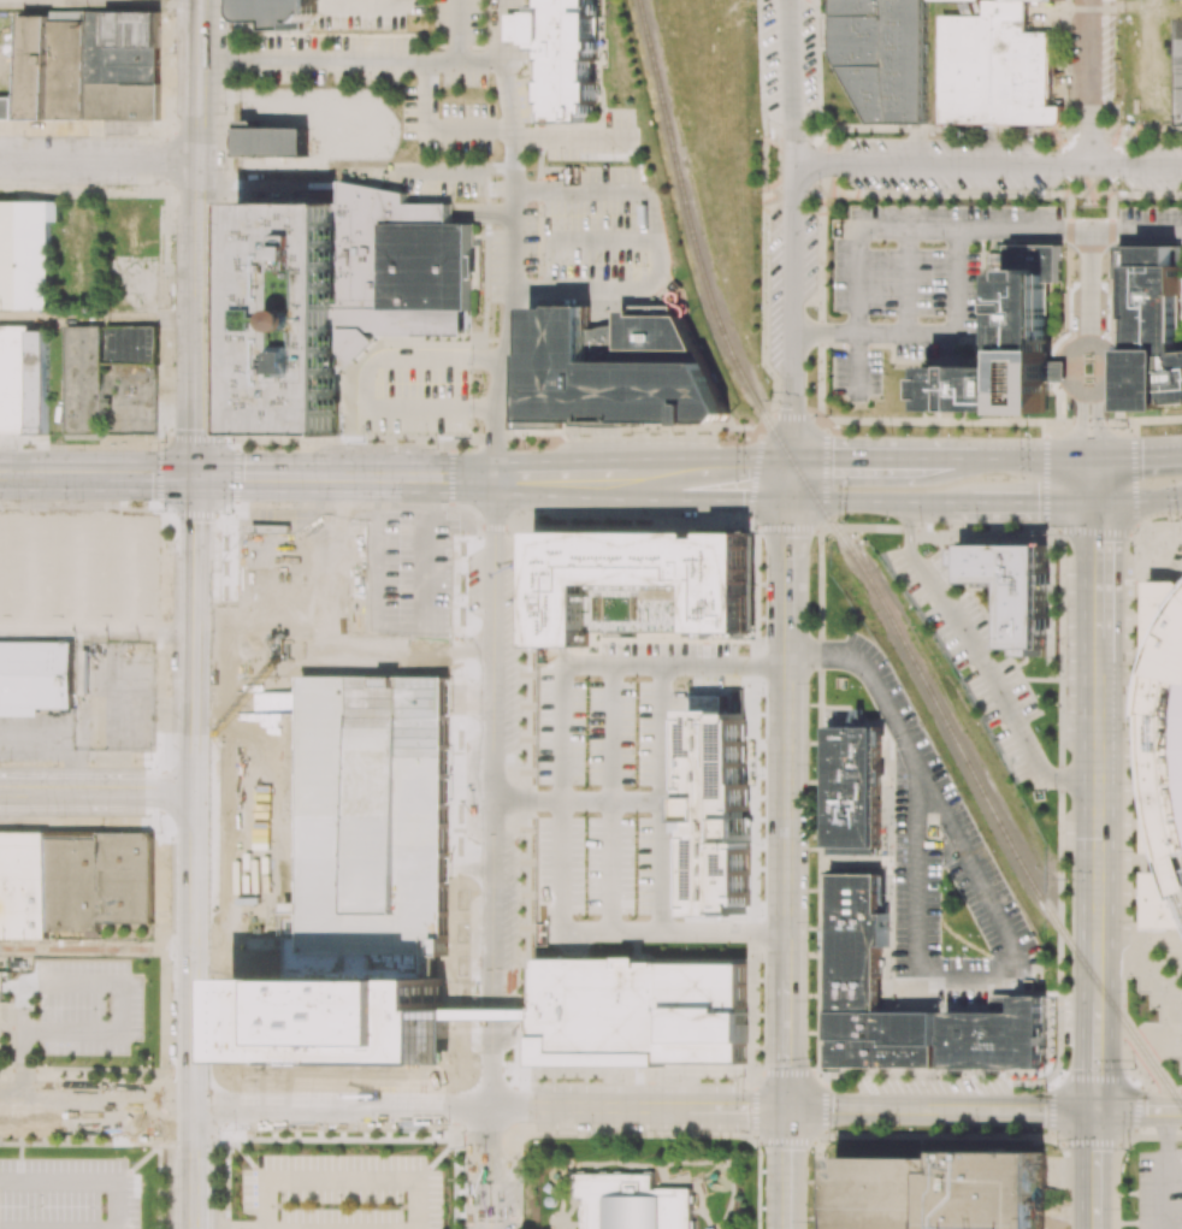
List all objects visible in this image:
road: (100, 4)
road: (361, 4)
building: (282, 11)
road: (459, 30)
road: (497, 30)
street lamp: (752, 30)
road: (520, 36)
street lamp: (175, 48)
building: (563, 53)
building: (883, 55)
road: (350, 60)
building: (90, 65)
building: (997, 67)
road: (790, 81)
road: (1088, 82)
street lamp: (288, 85)
street lamp: (368, 85)
building: (6, 108)
road: (200, 112)
street lamp: (225, 113)
road: (435, 128)
road: (574, 137)
street lamp: (763, 137)
building: (272, 143)
road: (99, 161)
road: (987, 164)
road: (459, 171)
street lamp: (116, 185)
street lamp: (764, 191)
street lamp: (818, 191)
road: (922, 229)
road: (1136, 230)
street lamp: (172, 237)
road: (603, 238)
road: (657, 244)
building: (26, 254)
road: (513, 270)
street lamp: (226, 280)
road: (906, 280)
road: (1089, 286)
road: (199, 288)
building: (337, 295)
road: (792, 309)
road: (100, 315)
water tower: (307, 319)
road: (953, 326)
building: (1154, 329)
road: (825, 332)
building: (1010, 348)
road: (857, 364)
flagpole: (1086, 364)
flagpole: (1093, 364)
street lamp: (172, 365)
building: (616, 366)
building: (100, 370)
street lamp: (808, 372)
flagpole: (1089, 373)
road: (371, 378)
street lamp: (768, 378)
building: (24, 380)
parking lot: (414, 391)
road: (1088, 392)
railway: (753, 398)
traffic signals: (791, 407)
road: (199, 413)
street lamp: (828, 414)
traffic signals: (1081, 415)
street lamp: (1124, 426)
street lamp: (1026, 429)
street lamp: (891, 433)
street lamp: (973, 435)
street lamp: (741, 437)
street lamp: (165, 442)
street lamp: (234, 442)
street lamp: (16, 448)
street lamp: (83, 449)
road: (1089, 451)
road: (1136, 451)
traffic signals: (1142, 451)
road: (716, 456)
traffic signals: (834, 456)
road: (876, 456)
road: (1027, 456)
road: (567, 463)
road: (43, 474)
road: (142, 475)
traffic signals: (199, 477)
road: (258, 477)
road: (403, 477)
road: (1092, 477)
road: (790, 478)
road: (555, 492)
road: (704, 498)
road: (1137, 498)
street lamp: (19, 500)
street lamp: (81, 500)
traffic signals: (741, 500)
road: (870, 500)
road: (1023, 501)
traffic signals: (1038, 501)
street lamp: (351, 502)
street lamp: (162, 510)
street lamp: (231, 513)
street lamp: (1177, 518)
street lamp: (846, 520)
road: (197, 521)
road: (908, 521)
street lamp: (920, 524)
street lamp: (976, 525)
road: (1163, 525)
building: (728, 530)
road: (788, 530)
road: (1094, 530)
building: (703, 532)
street lamp: (755, 533)
street lamp: (1045, 534)
traffic signals: (788, 538)
traffic signals: (1095, 542)
street lamp: (461, 543)
building: (750, 579)
road: (1095, 580)
building: (637, 583)
building: (1015, 589)
street lamp: (170, 596)
road: (787, 597)
street lamp: (1131, 598)
street lamp: (811, 605)
road: (197, 621)
parking lot: (376, 624)
road: (1095, 627)
road: (99, 633)
building: (692, 633)
building: (733, 634)
street lamp: (761, 638)
street lamp: (460, 649)
road: (561, 654)
parking lot: (974, 654)
street lamp: (1053, 655)
road: (786, 657)
road: (982, 660)
road: (673, 663)
street lamp: (1134, 666)
street lamp: (220, 673)
road: (873, 673)
building: (36, 675)
building: (280, 675)
street lamp: (675, 679)
street lamp: (811, 683)
street lamp: (858, 686)
street lamp: (586, 696)
street lamp: (634, 696)
building: (709, 703)
street lamp: (1133, 719)
parking lot: (34, 720)
street lamp: (1056, 722)
road: (196, 735)
road: (36, 737)
street lamp: (459, 744)
street lamp: (893, 748)
street lamp: (146, 751)
street lamp: (226, 751)
road: (1097, 752)
parking lot: (30, 754)
building: (1165, 754)
stadium: (1165, 754)
street lamp: (394, 761)
street lamp: (10, 762)
street lamp: (812, 762)
street lamp: (57, 764)
road: (69, 769)
street lamp: (585, 769)
street lamp: (634, 769)
road: (1072, 780)
street lamp: (1134, 782)
street lamp: (888, 785)
building: (855, 791)
road: (25, 792)
road: (123, 792)
traffic signals: (196, 793)
street lamp: (1053, 793)
road: (560, 797)
road: (609, 797)
road: (661, 797)
road: (575, 799)
road: (785, 806)
building: (717, 813)
street lamp: (61, 817)
street lamp: (890, 822)
building: (678, 823)
street lamp: (161, 831)
street lamp: (585, 832)
street lamp: (634, 832)
street lamp: (942, 838)
traffic signals: (1097, 839)
street lamp: (811, 840)
street lamp: (1134, 851)
road: (491, 853)
road: (195, 855)
street lamp: (890, 861)
street lamp: (942, 861)
road: (916, 867)
street lamp: (1064, 879)
building: (100, 880)
building: (23, 886)
street lamp: (888, 892)
road: (1095, 893)
street lamp: (584, 898)
street lamp: (634, 899)
street lamp: (166, 908)
road: (994, 909)
street lamp: (1133, 920)
street lamp: (810, 921)
road: (672, 932)
street lamp: (941, 932)
street lamp: (976, 934)
railway: (1065, 936)
building: (856, 941)
road: (433, 944)
street lamp: (695, 945)
road: (97, 949)
street lamp: (963, 955)
road: (1095, 959)
street lamp: (887, 976)
street lamp: (1068, 980)
street lamp: (1130, 989)
street lamp: (811, 1000)
building: (1003, 1003)
street lamp: (34, 1005)
parking lot: (85, 1006)
street lamp: (107, 1006)
road: (120, 1006)
road: (194, 1010)
building: (640, 1010)
road: (1094, 1014)
road: (785, 1020)
building: (997, 1036)
building: (883, 1039)
road: (23, 1042)
building: (544, 1048)
street lamp: (812, 1064)
street lamp: (167, 1065)
street lamp: (1133, 1068)
street lamp: (881, 1074)
street lamp: (143, 1077)
street lamp: (744, 1077)
road: (1093, 1077)
street lamp: (305, 1079)
street lamp: (982, 1079)
street lamp: (1044, 1085)
road: (96, 1104)
road: (341, 1105)
road: (544, 1107)
road: (630, 1107)
road: (679, 1107)
road: (743, 1109)
traffic signals: (786, 1109)
road: (833, 1109)
road: (926, 1109)
road: (1032, 1109)
traffic signals: (1093, 1110)
road: (1137, 1110)
street lamp: (445, 1124)
street lamp: (235, 1125)
street lamp: (897, 1128)
street lamp: (976, 1129)
street lamp: (590, 1131)
street lamp: (372, 1134)
street lamp: (834, 1142)
street lamp: (462, 1147)
street lamp: (1054, 1148)
street lamp: (1127, 1150)
street lamp: (752, 1152)
road: (194, 1166)
road: (786, 1169)
road: (1091, 1169)
road: (83, 1180)
road: (365, 1181)
parking lot: (343, 1190)
building: (942, 1190)
parking lot: (69, 1193)
parking lot: (490, 1193)
building: (633, 1203)
road: (267, 1205)
street lamp: (1119, 1207)
street lamp: (806, 1218)
street lamp: (760, 1219)
road: (230, 1224)

